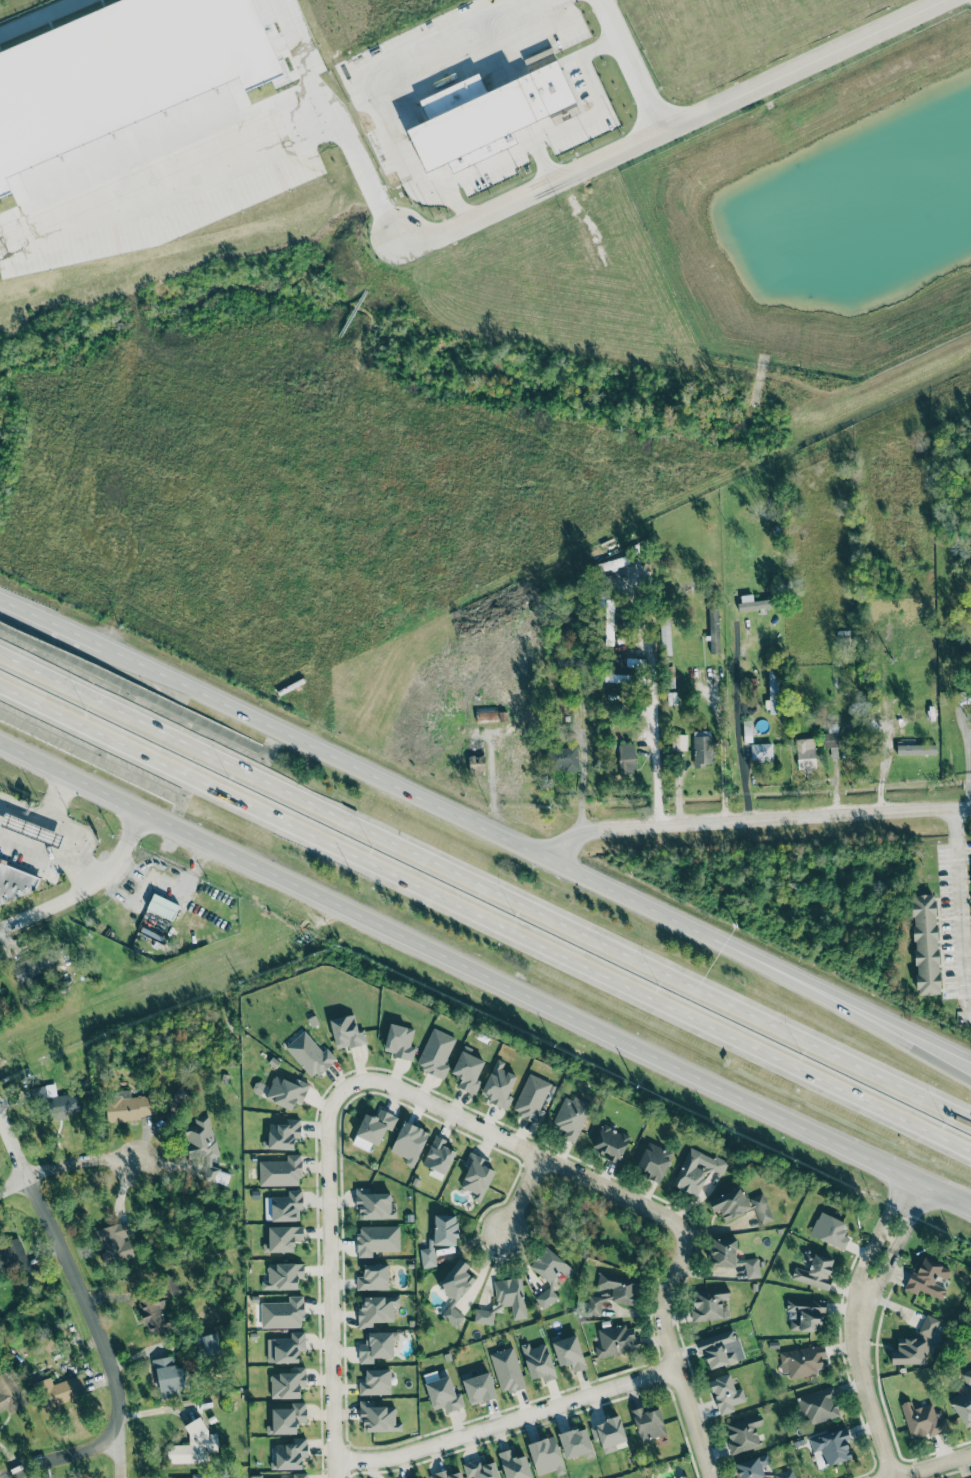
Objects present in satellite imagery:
wastewater plant: (12, 5)
road: (418, 61)
road: (630, 65)
road: (801, 65)
building: (484, 116)
road: (560, 131)
road: (543, 163)
road: (529, 192)
road: (444, 195)
building: (752, 603)
road: (51, 624)
building: (714, 630)
building: (665, 636)
building: (616, 678)
building: (773, 692)
building: (964, 696)
building: (485, 716)
road: (654, 720)
road: (737, 728)
building: (831, 735)
building: (679, 742)
building: (702, 748)
building: (916, 749)
building: (761, 752)
building: (805, 754)
building: (627, 756)
building: (566, 759)
building: (476, 764)
road: (722, 766)
road: (584, 768)
road: (967, 769)
road: (758, 819)
building: (31, 830)
road: (536, 854)
building: (17, 883)
road: (485, 885)
road: (87, 888)
road: (961, 904)
building: (162, 906)
road: (485, 917)
building: (925, 944)
building: (35, 965)
road: (485, 978)
building: (347, 1032)
building: (399, 1042)
road: (917, 1042)
building: (436, 1052)
building: (309, 1054)
building: (467, 1071)
building: (498, 1085)
building: (286, 1092)
building: (532, 1098)
building: (58, 1100)
building: (128, 1106)
building: (570, 1117)
building: (373, 1129)
building: (282, 1135)
building: (409, 1142)
building: (611, 1143)
building: (203, 1146)
road: (13, 1148)
road: (521, 1148)
building: (438, 1155)
building: (654, 1161)
road: (66, 1165)
building: (696, 1170)
building: (280, 1172)
building: (476, 1176)
road: (925, 1185)
road: (520, 1197)
building: (374, 1205)
building: (740, 1205)
building: (284, 1206)
building: (829, 1230)
building: (440, 1237)
building: (283, 1238)
building: (377, 1239)
building: (116, 1242)
building: (723, 1252)
building: (9, 1257)
building: (550, 1265)
building: (752, 1268)
building: (813, 1270)
building: (283, 1276)
building: (374, 1277)
road: (330, 1278)
building: (929, 1279)
building: (619, 1286)
building: (455, 1289)
building: (510, 1296)
building: (546, 1297)
building: (709, 1303)
building: (594, 1305)
road: (87, 1307)
building: (157, 1307)
building: (376, 1310)
building: (283, 1313)
building: (805, 1314)
building: (483, 1316)
building: (928, 1325)
road: (857, 1328)
building: (616, 1340)
building: (211, 1343)
building: (377, 1346)
building: (289, 1347)
building: (720, 1349)
building: (909, 1351)
building: (568, 1352)
road: (673, 1358)
building: (802, 1361)
building: (538, 1362)
building: (507, 1370)
building: (967, 1376)
building: (167, 1377)
building: (376, 1382)
building: (288, 1383)
building: (479, 1388)
building: (60, 1391)
building: (10, 1393)
building: (725, 1393)
building: (443, 1395)
building: (818, 1405)
building: (963, 1407)
building: (378, 1418)
building: (287, 1419)
building: (922, 1420)
road: (506, 1422)
building: (648, 1423)
building: (608, 1433)
building: (743, 1434)
building: (575, 1443)
building: (194, 1446)
building: (831, 1448)
building: (290, 1454)
building: (546, 1456)
road: (67, 1458)
road: (121, 1461)
building: (514, 1465)
building: (753, 1467)
road: (932, 1467)
building: (480, 1469)
building: (785, 1474)
building: (198, 1475)
building: (300, 1475)
building: (446, 1475)
building: (684, 1476)

